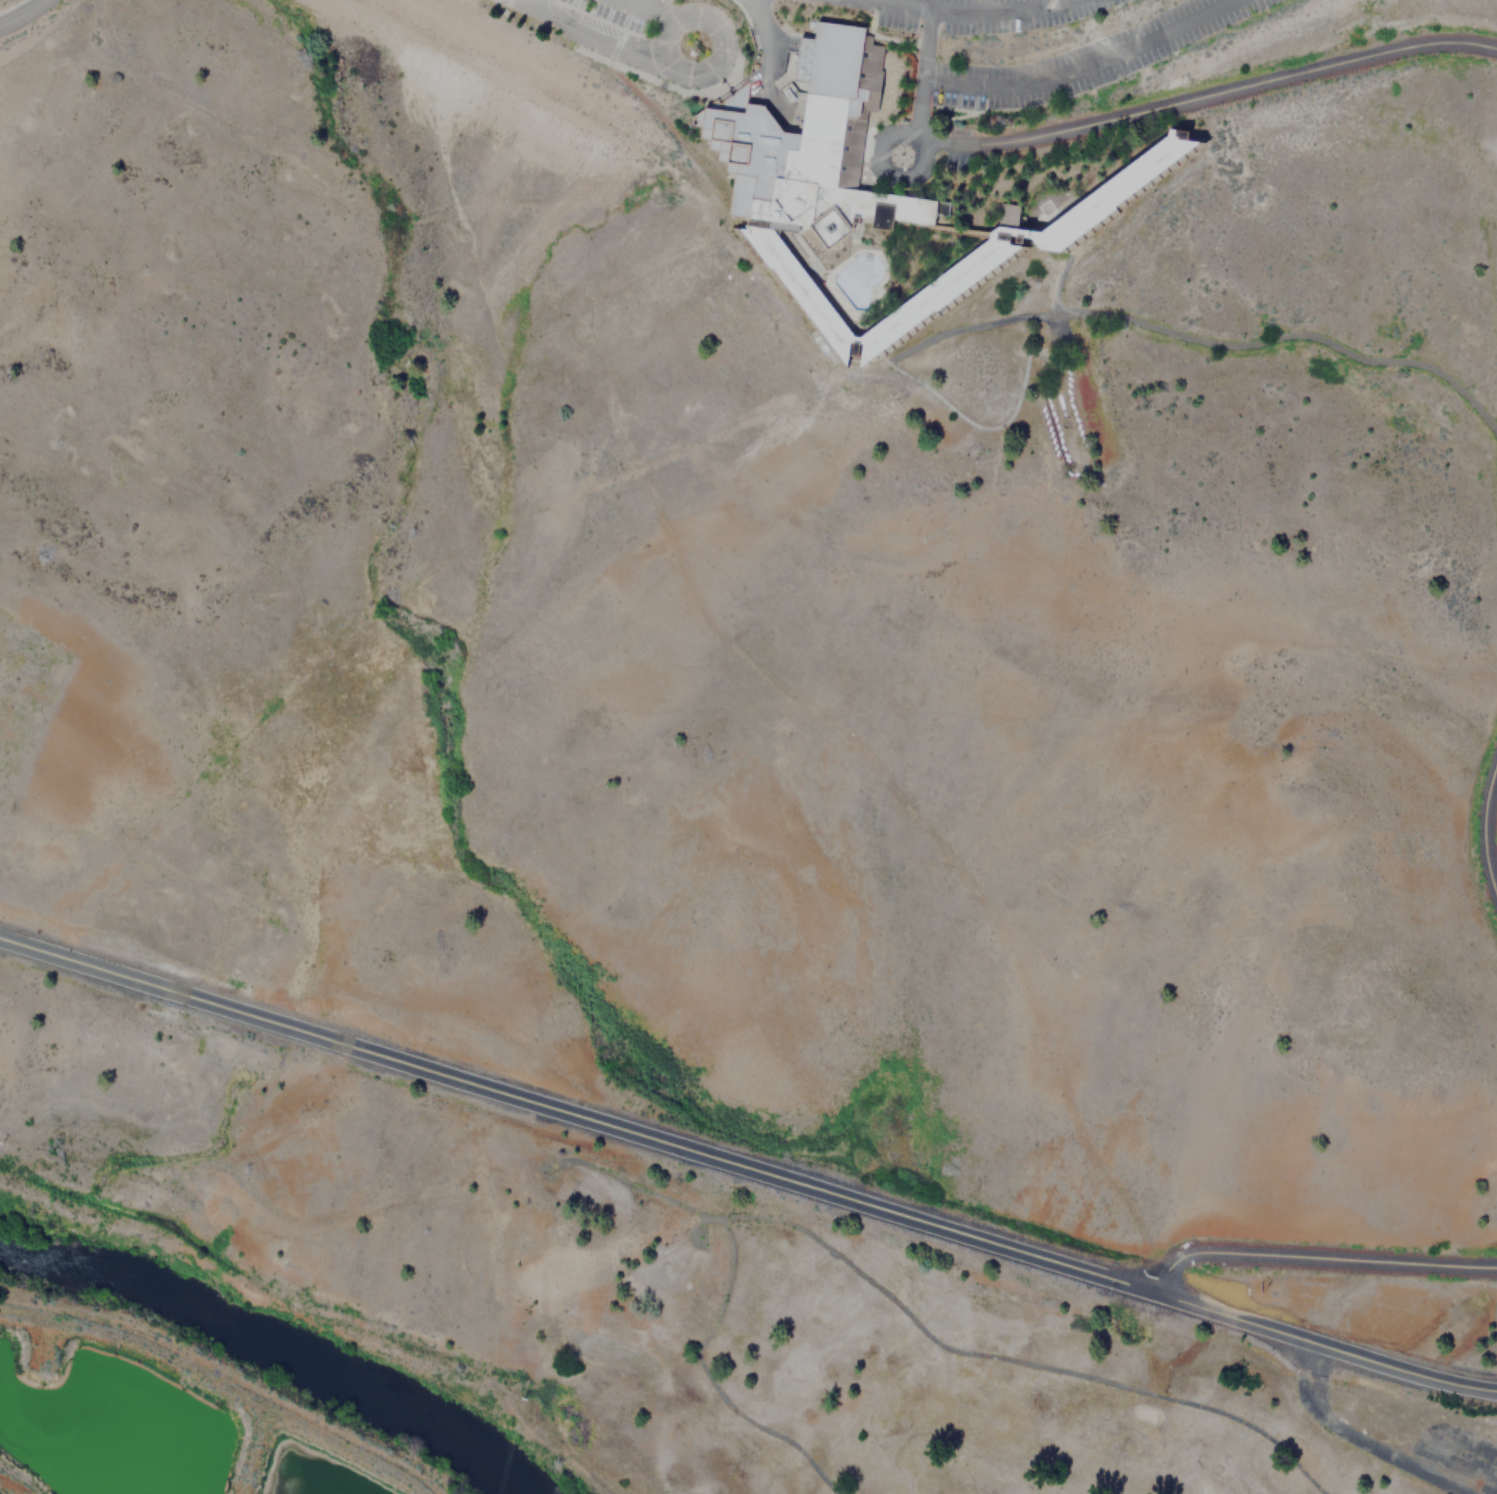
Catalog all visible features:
road: (531, 0)
road: (908, 3)
road: (23, 14)
parking lot: (1036, 45)
road: (1109, 113)
building: (1102, 184)
building: (847, 227)
road: (1133, 637)
road: (1485, 821)
road: (748, 1167)
road: (1314, 1261)
river: (275, 1348)
park: (958, 1388)

